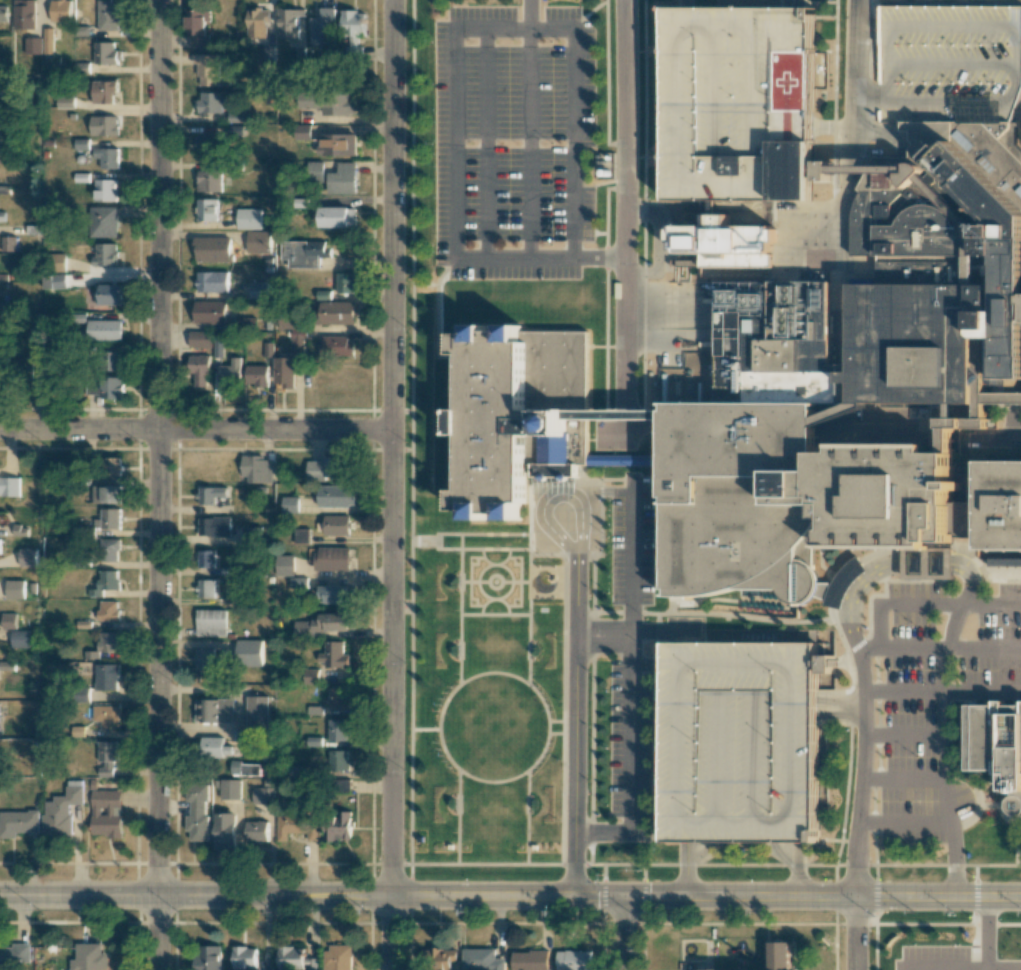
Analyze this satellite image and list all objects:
building: (61, 10)
building: (3, 13)
building: (24, 14)
building: (107, 15)
road: (527, 15)
building: (288, 22)
building: (257, 23)
building: (322, 27)
building: (352, 27)
building: (197, 28)
road: (452, 31)
building: (48, 40)
building: (33, 45)
parking lot: (950, 51)
building: (106, 53)
road: (857, 66)
building: (207, 69)
helipad: (793, 77)
building: (104, 92)
building: (65, 101)
building: (210, 102)
parking lot: (739, 102)
building: (331, 103)
building: (740, 104)
building: (103, 125)
building: (302, 131)
building: (210, 141)
building: (81, 144)
building: (337, 144)
parking lot: (510, 144)
road: (483, 145)
road: (527, 145)
building: (107, 157)
building: (342, 179)
building: (208, 181)
building: (105, 190)
building: (206, 209)
road: (624, 215)
building: (337, 216)
building: (249, 218)
building: (103, 221)
building: (258, 241)
building: (9, 243)
building: (723, 244)
building: (213, 249)
building: (304, 253)
building: (105, 254)
road: (598, 260)
building: (58, 262)
building: (939, 263)
building: (54, 281)
building: (212, 281)
building: (345, 282)
building: (258, 290)
building: (108, 294)
building: (210, 312)
building: (336, 312)
building: (104, 330)
building: (293, 334)
building: (200, 339)
building: (775, 345)
building: (337, 346)
building: (37, 349)
building: (112, 360)
building: (198, 370)
building: (284, 371)
building: (230, 373)
building: (257, 375)
building: (107, 387)
building: (513, 412)
road: (194, 429)
road: (999, 438)
building: (112, 466)
building: (325, 468)
building: (257, 469)
road: (155, 485)
road: (390, 485)
building: (9, 486)
building: (106, 494)
building: (210, 494)
building: (879, 495)
building: (337, 496)
building: (739, 499)
building: (290, 504)
building: (1003, 505)
building: (110, 518)
building: (337, 524)
building: (214, 526)
road: (482, 533)
building: (250, 535)
building: (301, 535)
parking lot: (630, 539)
building: (0, 543)
road: (974, 546)
road: (481, 548)
building: (109, 550)
building: (28, 557)
building: (206, 558)
building: (332, 558)
building: (1015, 562)
building: (284, 565)
road: (880, 568)
road: (488, 577)
road: (473, 581)
building: (105, 582)
road: (513, 582)
road: (477, 587)
building: (204, 588)
building: (15, 589)
building: (334, 594)
road: (929, 605)
road: (459, 608)
road: (527, 608)
building: (108, 610)
road: (479, 613)
building: (9, 620)
building: (211, 622)
building: (324, 624)
road: (602, 633)
building: (20, 639)
building: (107, 642)
road: (943, 648)
building: (248, 653)
building: (333, 655)
road: (630, 656)
building: (206, 659)
building: (106, 676)
building: (310, 676)
road: (944, 691)
building: (338, 697)
parking lot: (924, 704)
road: (842, 707)
building: (214, 710)
building: (257, 712)
road: (943, 714)
building: (107, 715)
road: (560, 719)
road: (574, 725)
building: (337, 730)
road: (560, 733)
road: (905, 733)
parking lot: (740, 744)
building: (998, 745)
building: (211, 747)
parking lot: (629, 748)
building: (107, 757)
building: (337, 760)
road: (457, 768)
building: (245, 769)
road: (863, 772)
road: (905, 778)
building: (341, 786)
building: (230, 789)
building: (262, 795)
building: (61, 809)
building: (197, 812)
building: (106, 813)
road: (458, 816)
road: (526, 816)
road: (904, 821)
building: (18, 823)
building: (297, 826)
building: (338, 827)
building: (225, 831)
building: (256, 831)
road: (601, 832)
road: (952, 838)
road: (482, 863)
road: (686, 871)
road: (312, 896)
road: (822, 897)
traffic signals: (624, 898)
road: (856, 933)
road: (624, 934)
road: (986, 939)
building: (779, 955)
building: (15, 956)
building: (90, 957)
building: (206, 957)
building: (243, 957)
building: (337, 957)
parking lot: (936, 957)
building: (290, 958)
building: (440, 959)
building: (482, 960)
building: (529, 960)
building: (573, 960)
road: (942, 967)
road: (1003, 967)

